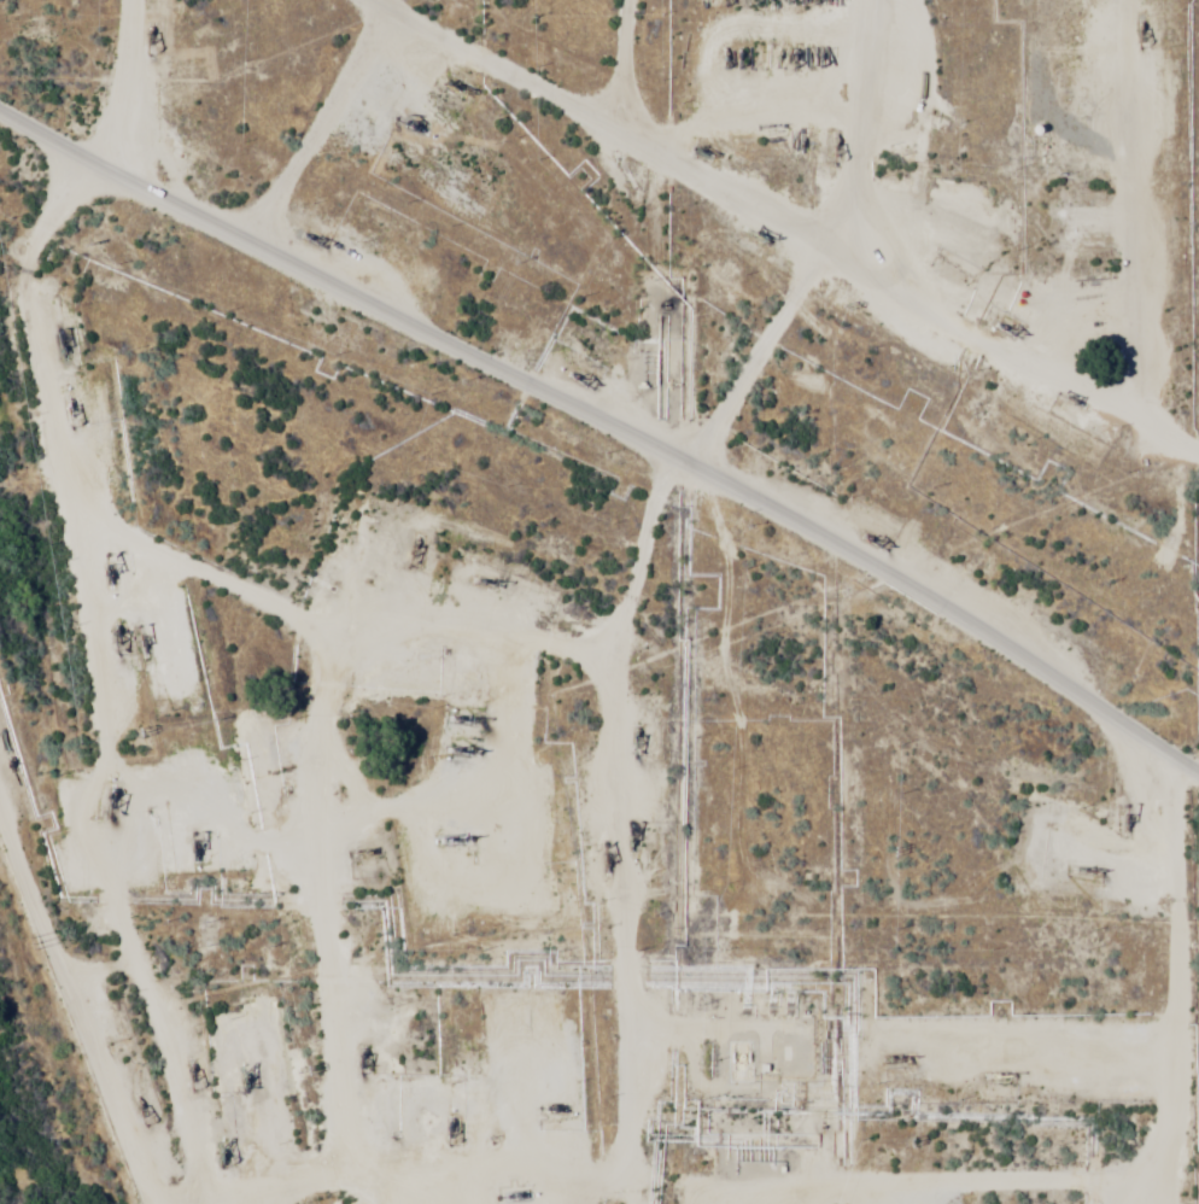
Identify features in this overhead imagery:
road: (92, 84)
road: (413, 90)
road: (297, 115)
road: (813, 238)
road: (739, 262)
road: (346, 280)
road: (1071, 296)
road: (136, 584)
road: (944, 610)
road: (92, 782)
road: (560, 854)
road: (113, 939)
road: (256, 951)
road: (883, 1021)
road: (1139, 1128)

